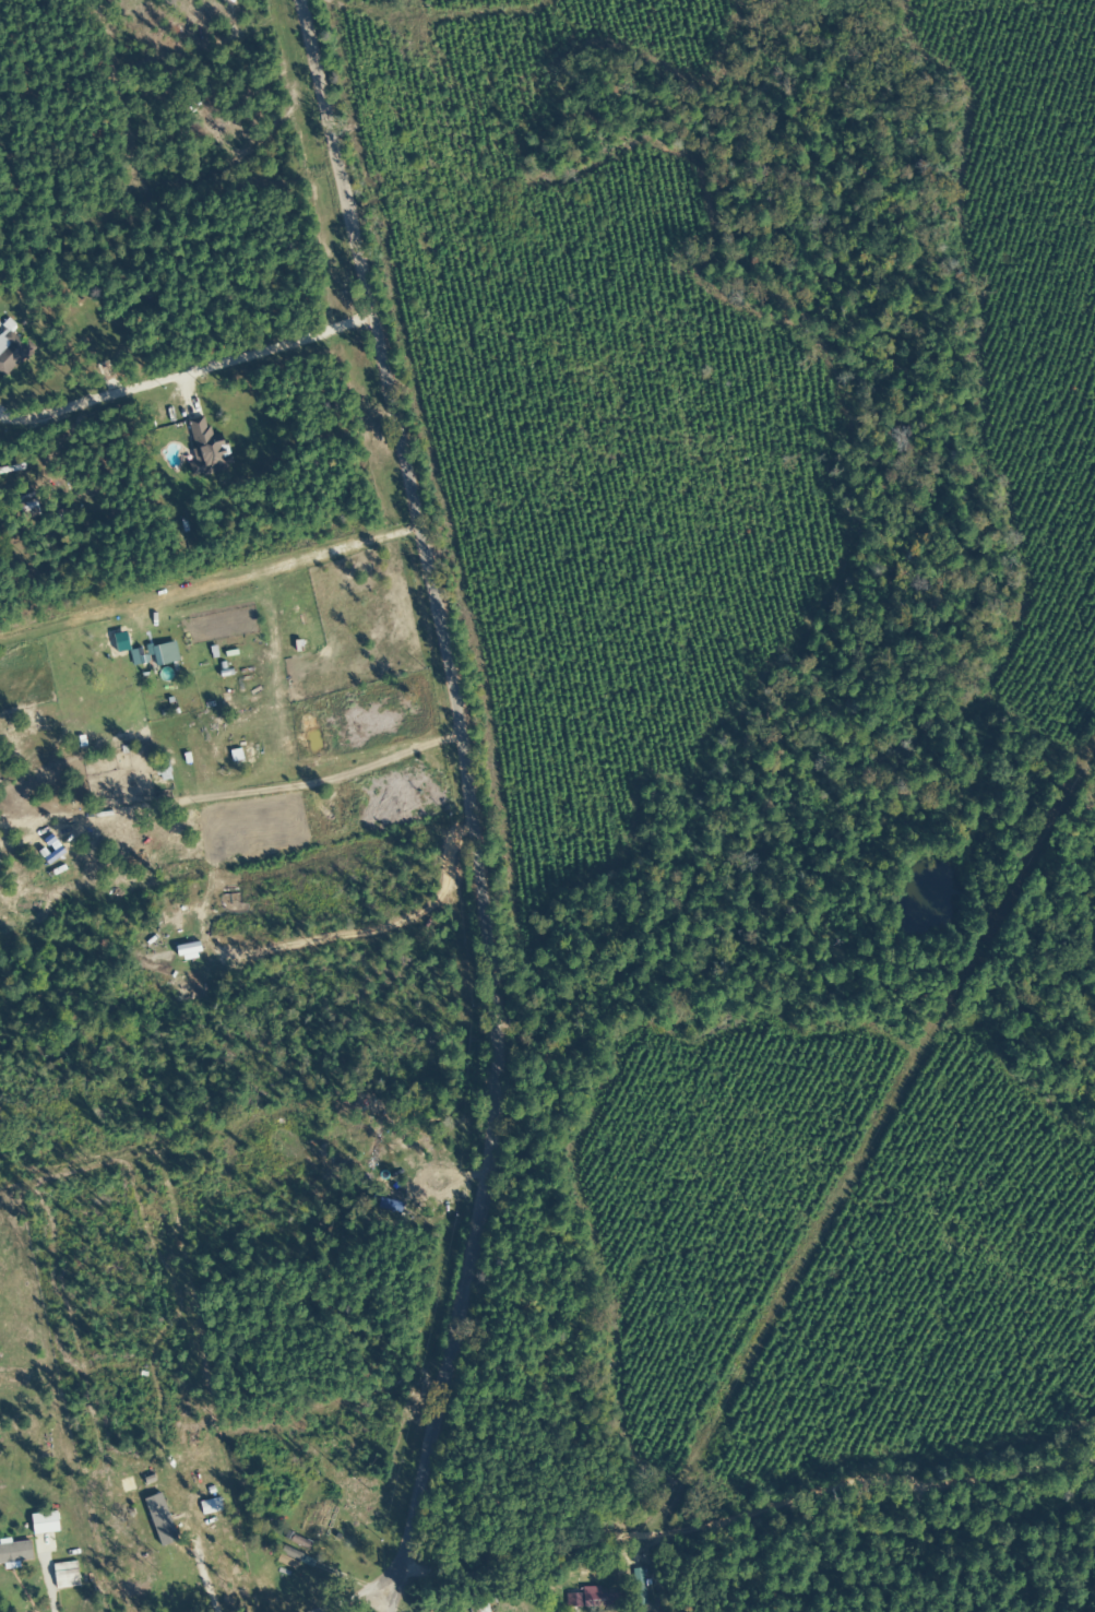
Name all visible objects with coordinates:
building: (10, 351)
building: (158, 655)
road: (477, 802)
road: (754, 1500)
building: (297, 1542)
building: (289, 1553)
road: (295, 1578)
road: (466, 1593)
building: (599, 1601)
building: (478, 1605)

